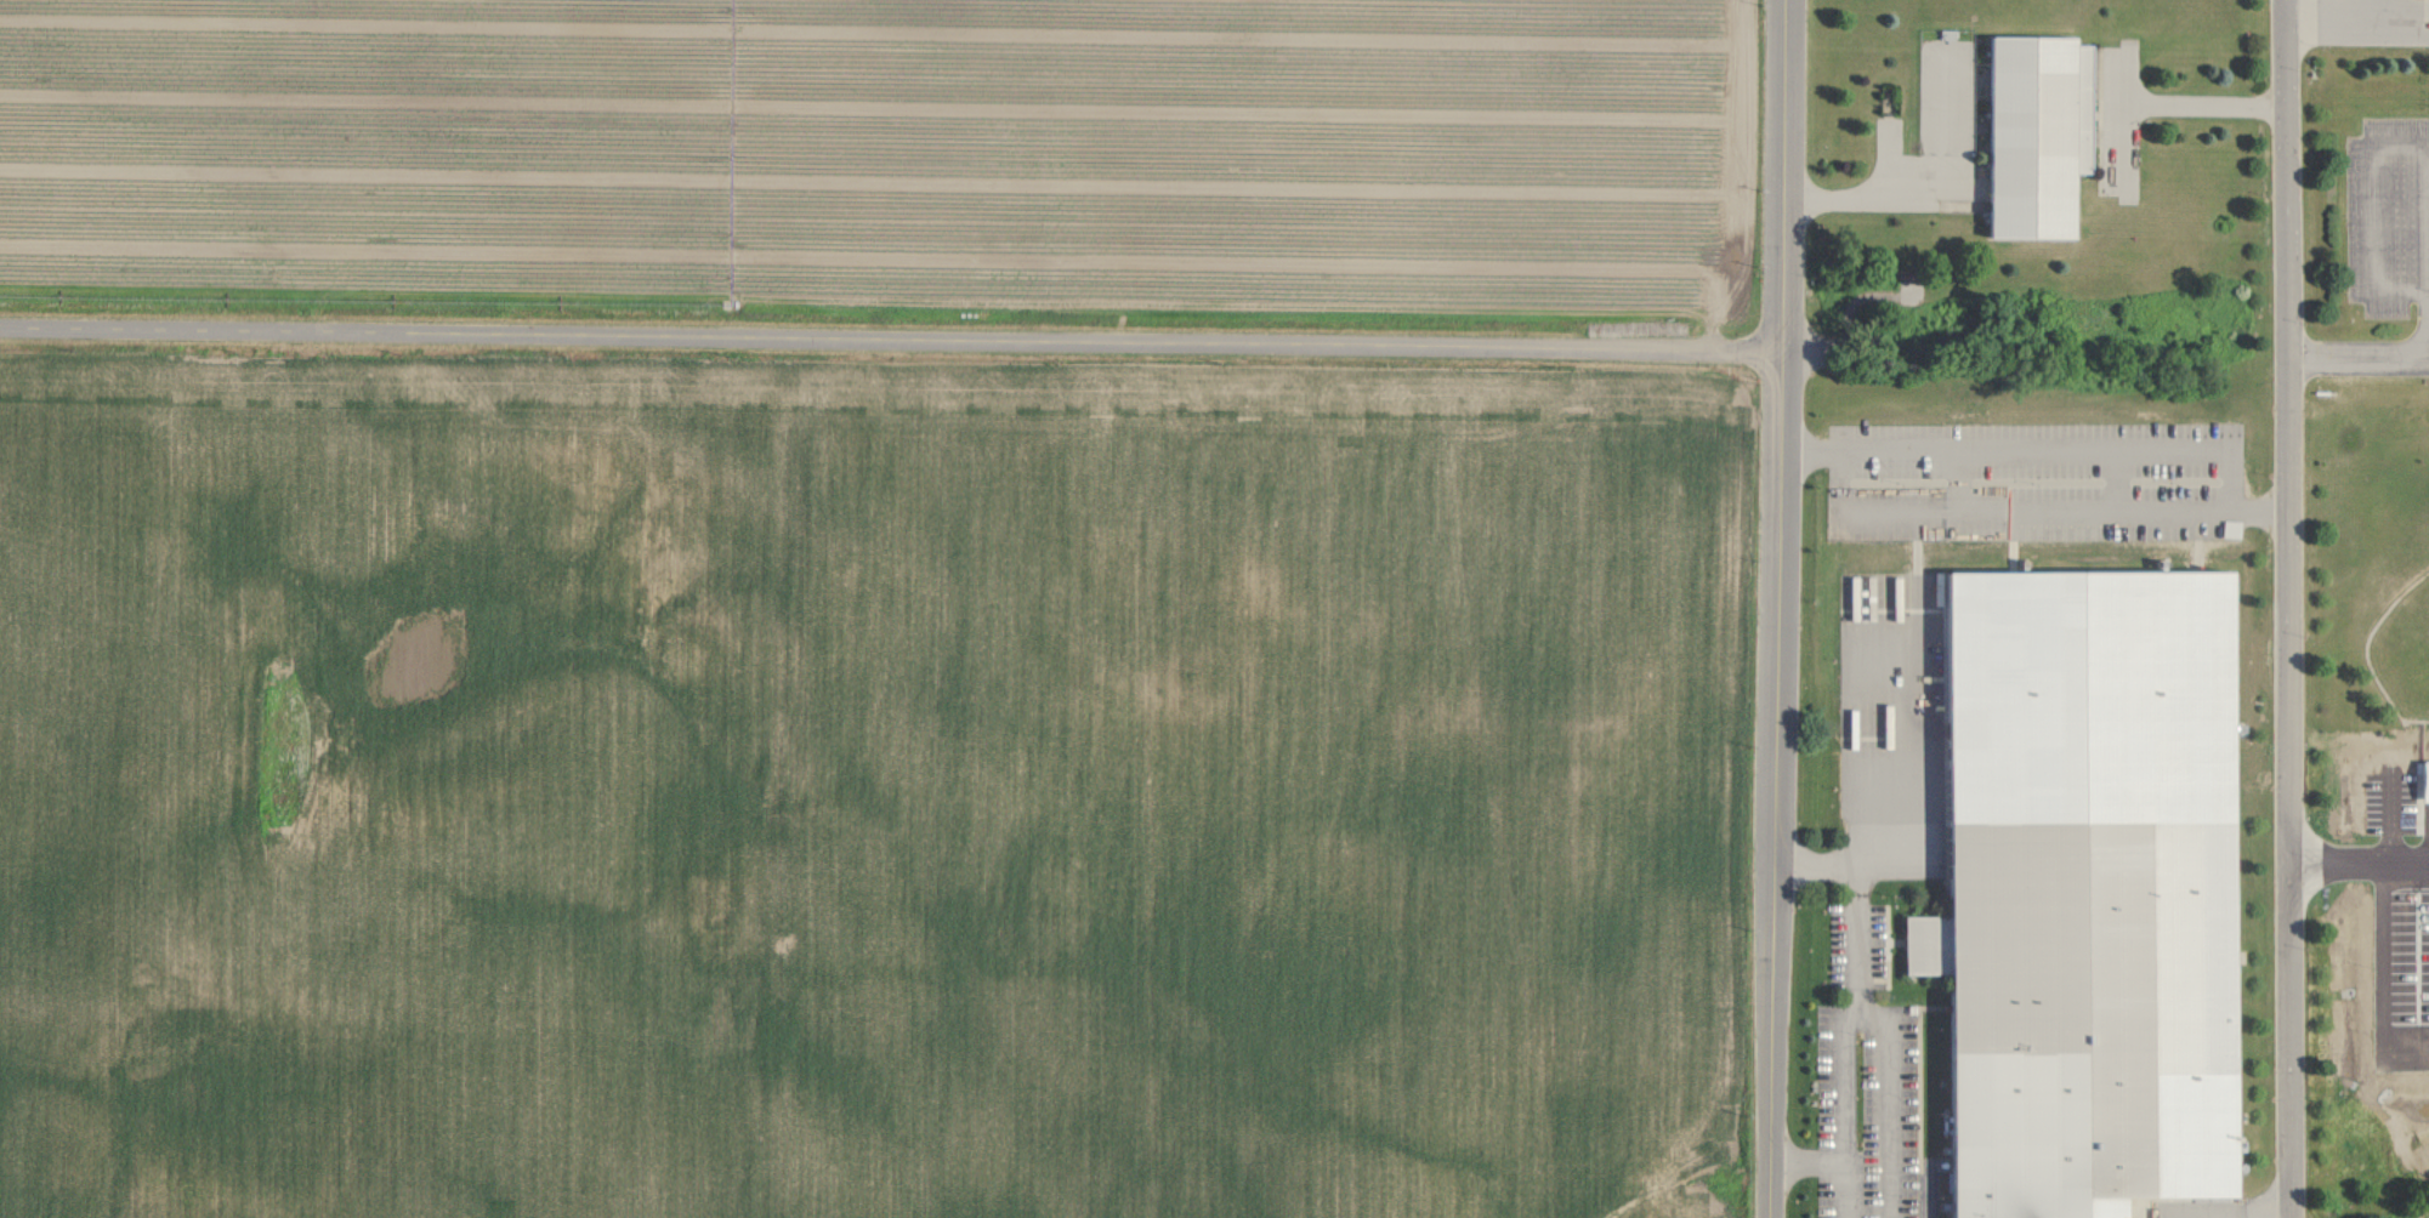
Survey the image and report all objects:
road: (2344, 21)
road: (2404, 25)
road: (2172, 104)
building: (2041, 136)
road: (1850, 199)
road: (2370, 212)
road: (2425, 247)
road: (890, 334)
road: (2357, 355)
road: (2192, 454)
road: (2260, 507)
road: (1777, 608)
road: (2288, 608)
road: (2416, 719)
road: (1890, 757)
road: (2422, 763)
building: (2092, 889)
road: (2416, 912)
road: (1866, 975)
road: (1890, 1106)
road: (1837, 1165)
road: (1931, 1194)
road: (2259, 1210)

